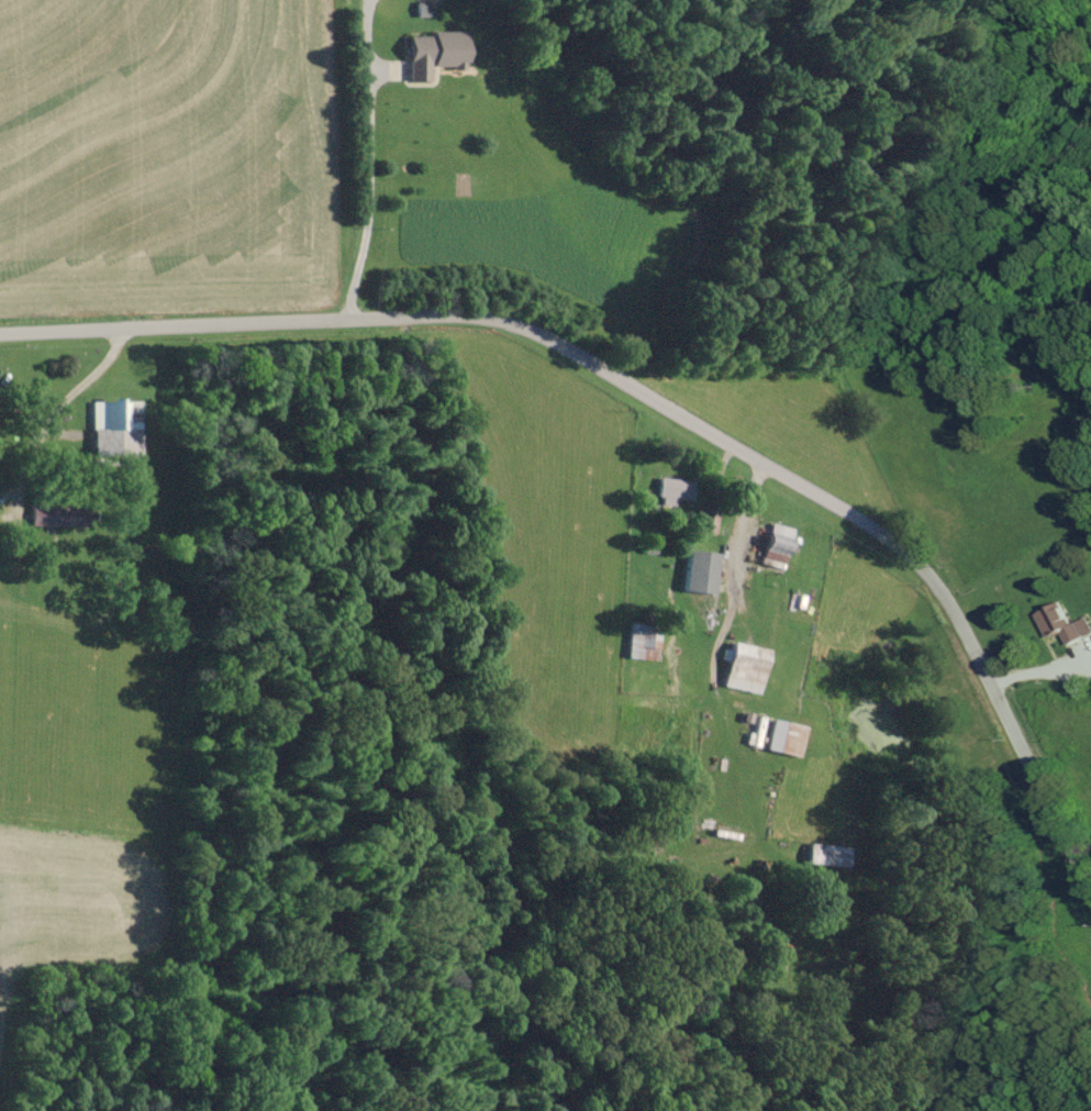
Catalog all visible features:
building: (436, 52)
road: (371, 208)
road: (658, 399)
road: (64, 410)
building: (115, 426)
building: (675, 488)
building: (56, 515)
building: (706, 518)
building: (779, 545)
road: (735, 559)
building: (703, 570)
building: (1065, 623)
building: (645, 641)
road: (1046, 663)
building: (748, 667)
building: (788, 736)
building: (831, 855)

